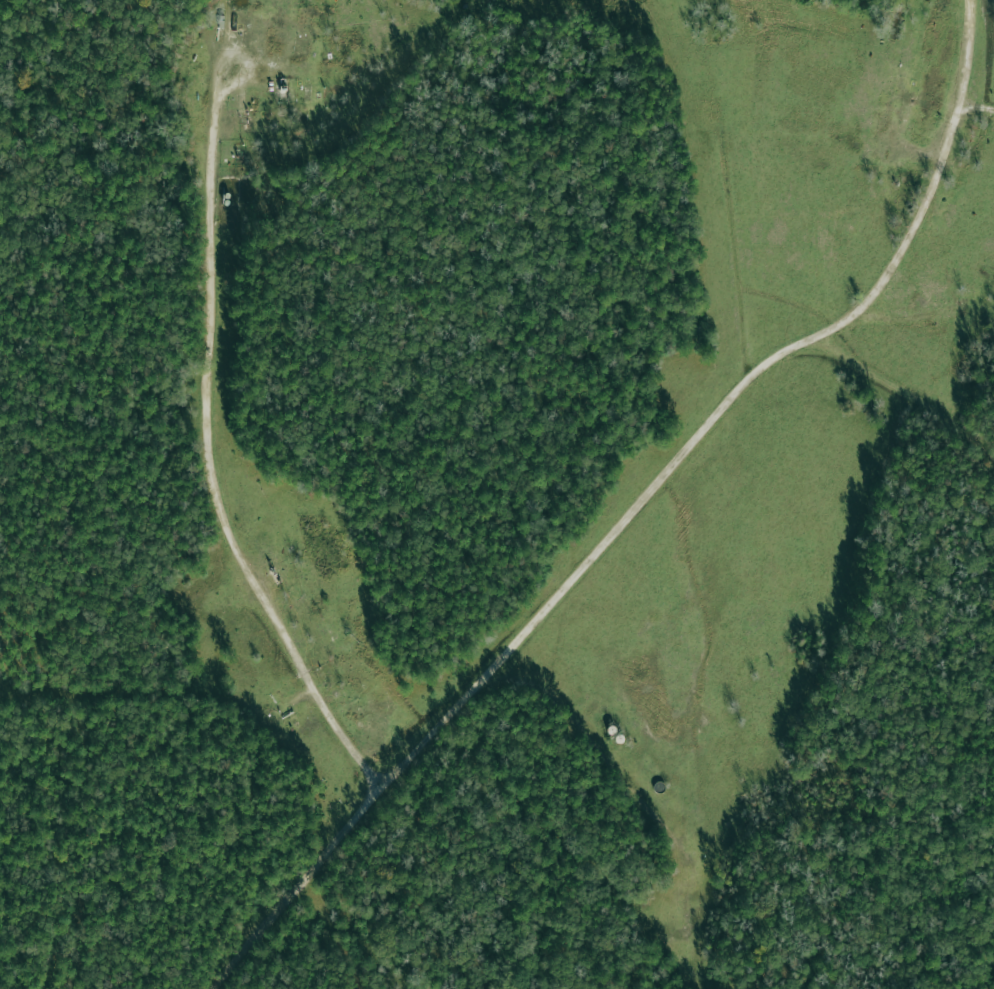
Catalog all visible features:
road: (976, 107)
road: (908, 392)
road: (742, 393)
road: (221, 419)
road: (398, 779)

